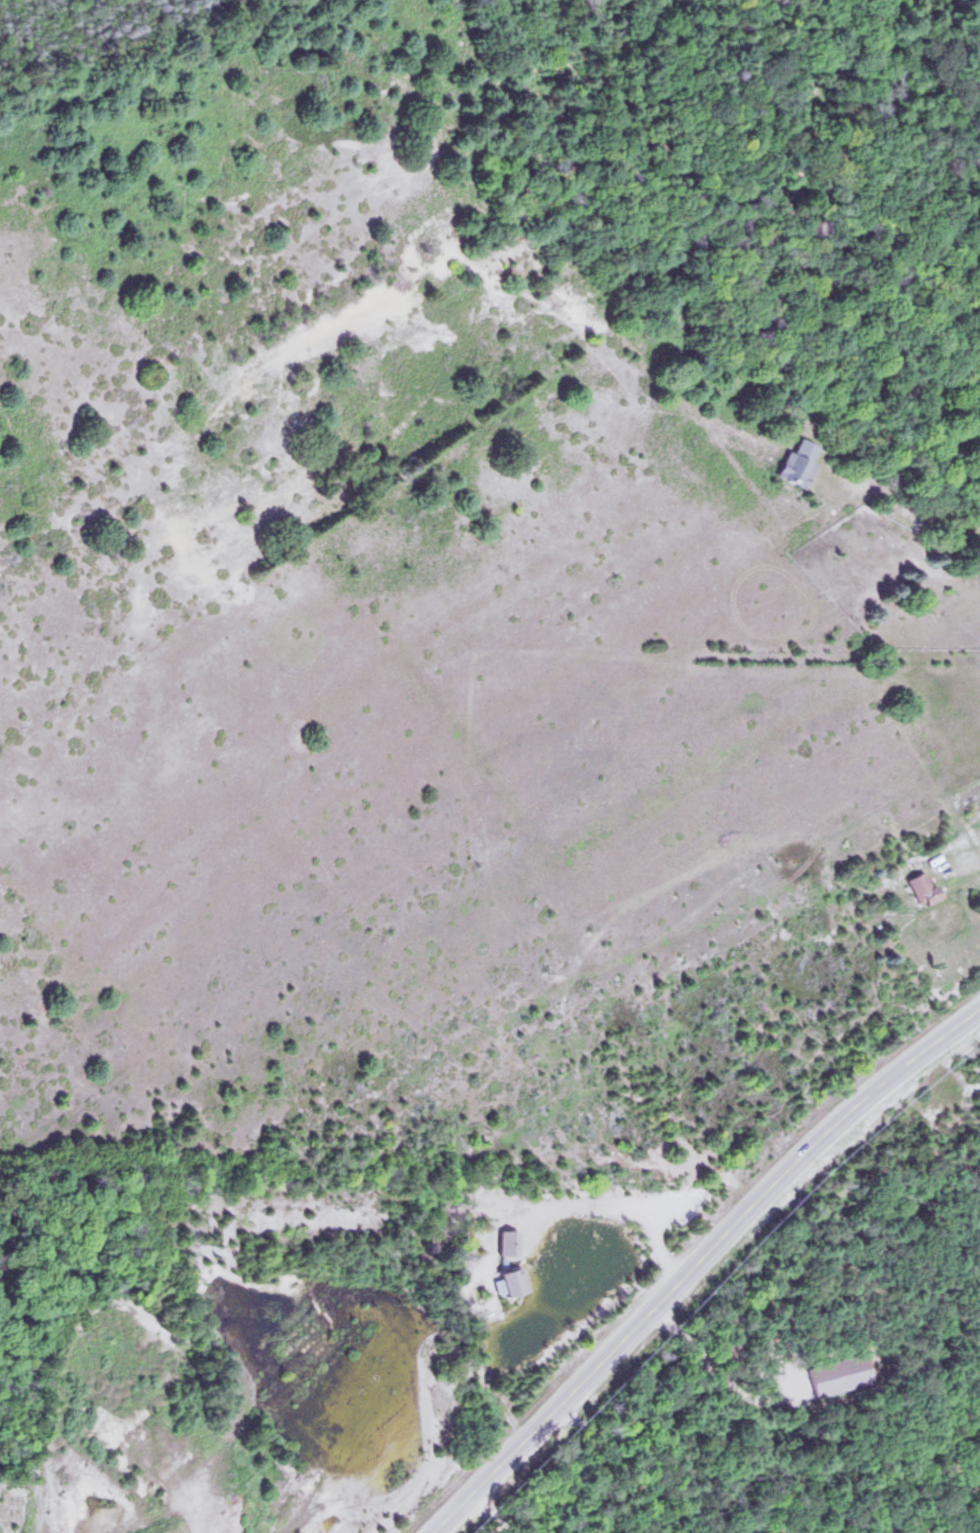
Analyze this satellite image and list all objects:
road: (938, 383)
building: (801, 461)
park: (216, 611)
building: (924, 886)
building: (941, 916)
building: (511, 1241)
road: (694, 1259)
building: (515, 1280)
quarry: (239, 1360)

